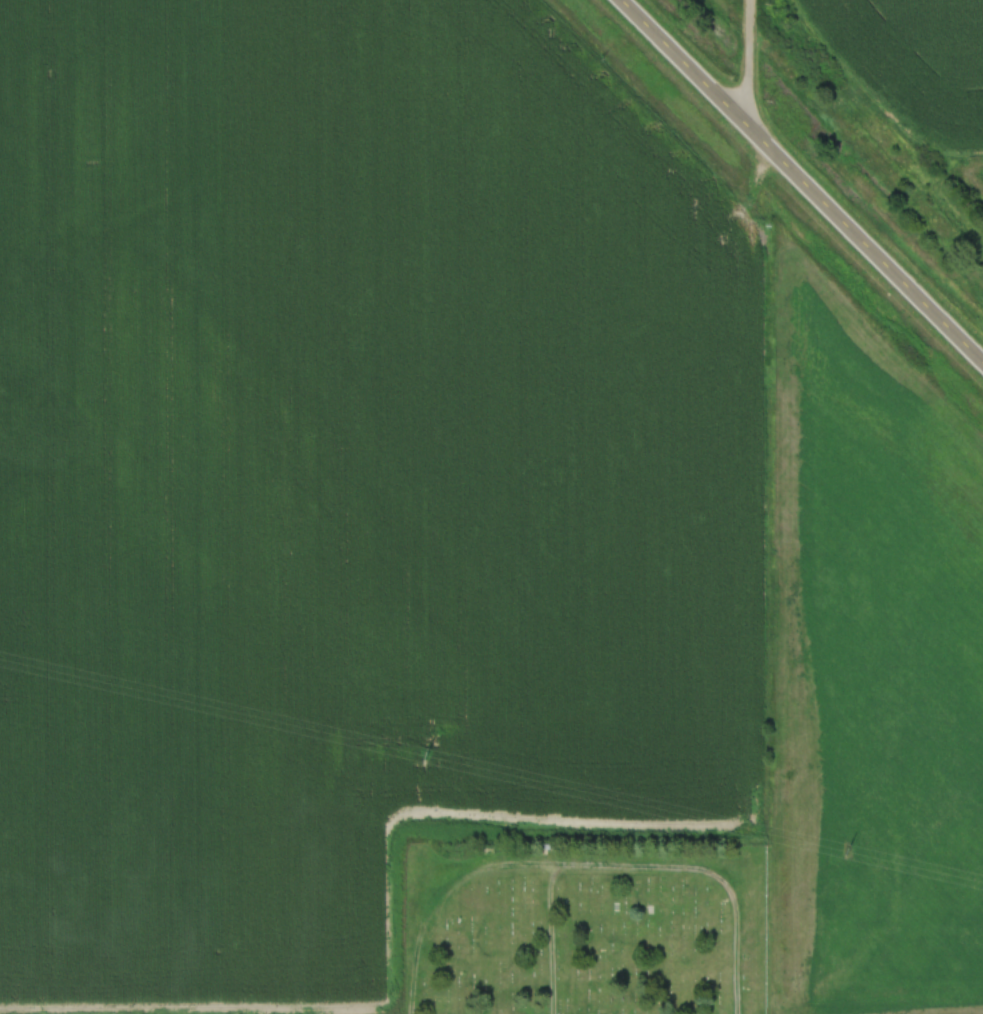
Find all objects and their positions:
road: (750, 66)
road: (801, 181)
power tower: (427, 751)
power tower: (849, 849)
road: (585, 866)
park: (586, 925)
road: (553, 940)

